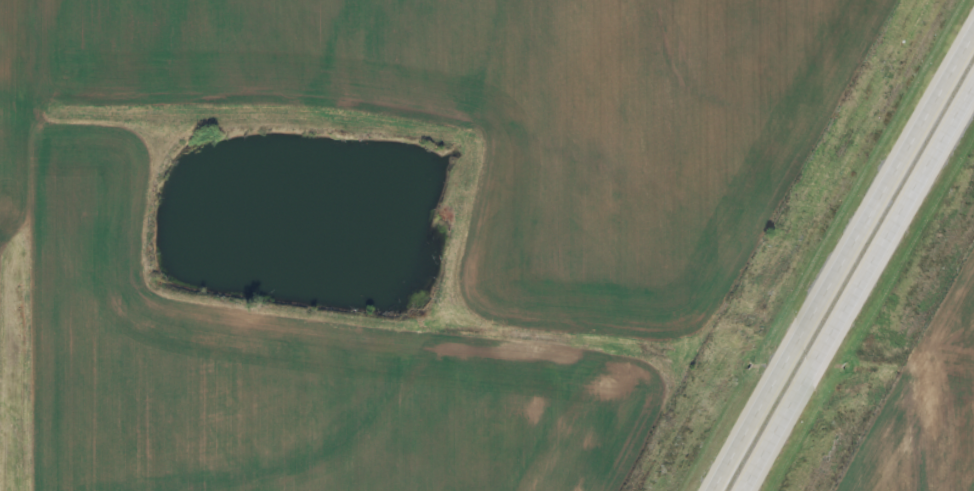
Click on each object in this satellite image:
road: (842, 260)
road: (856, 285)

